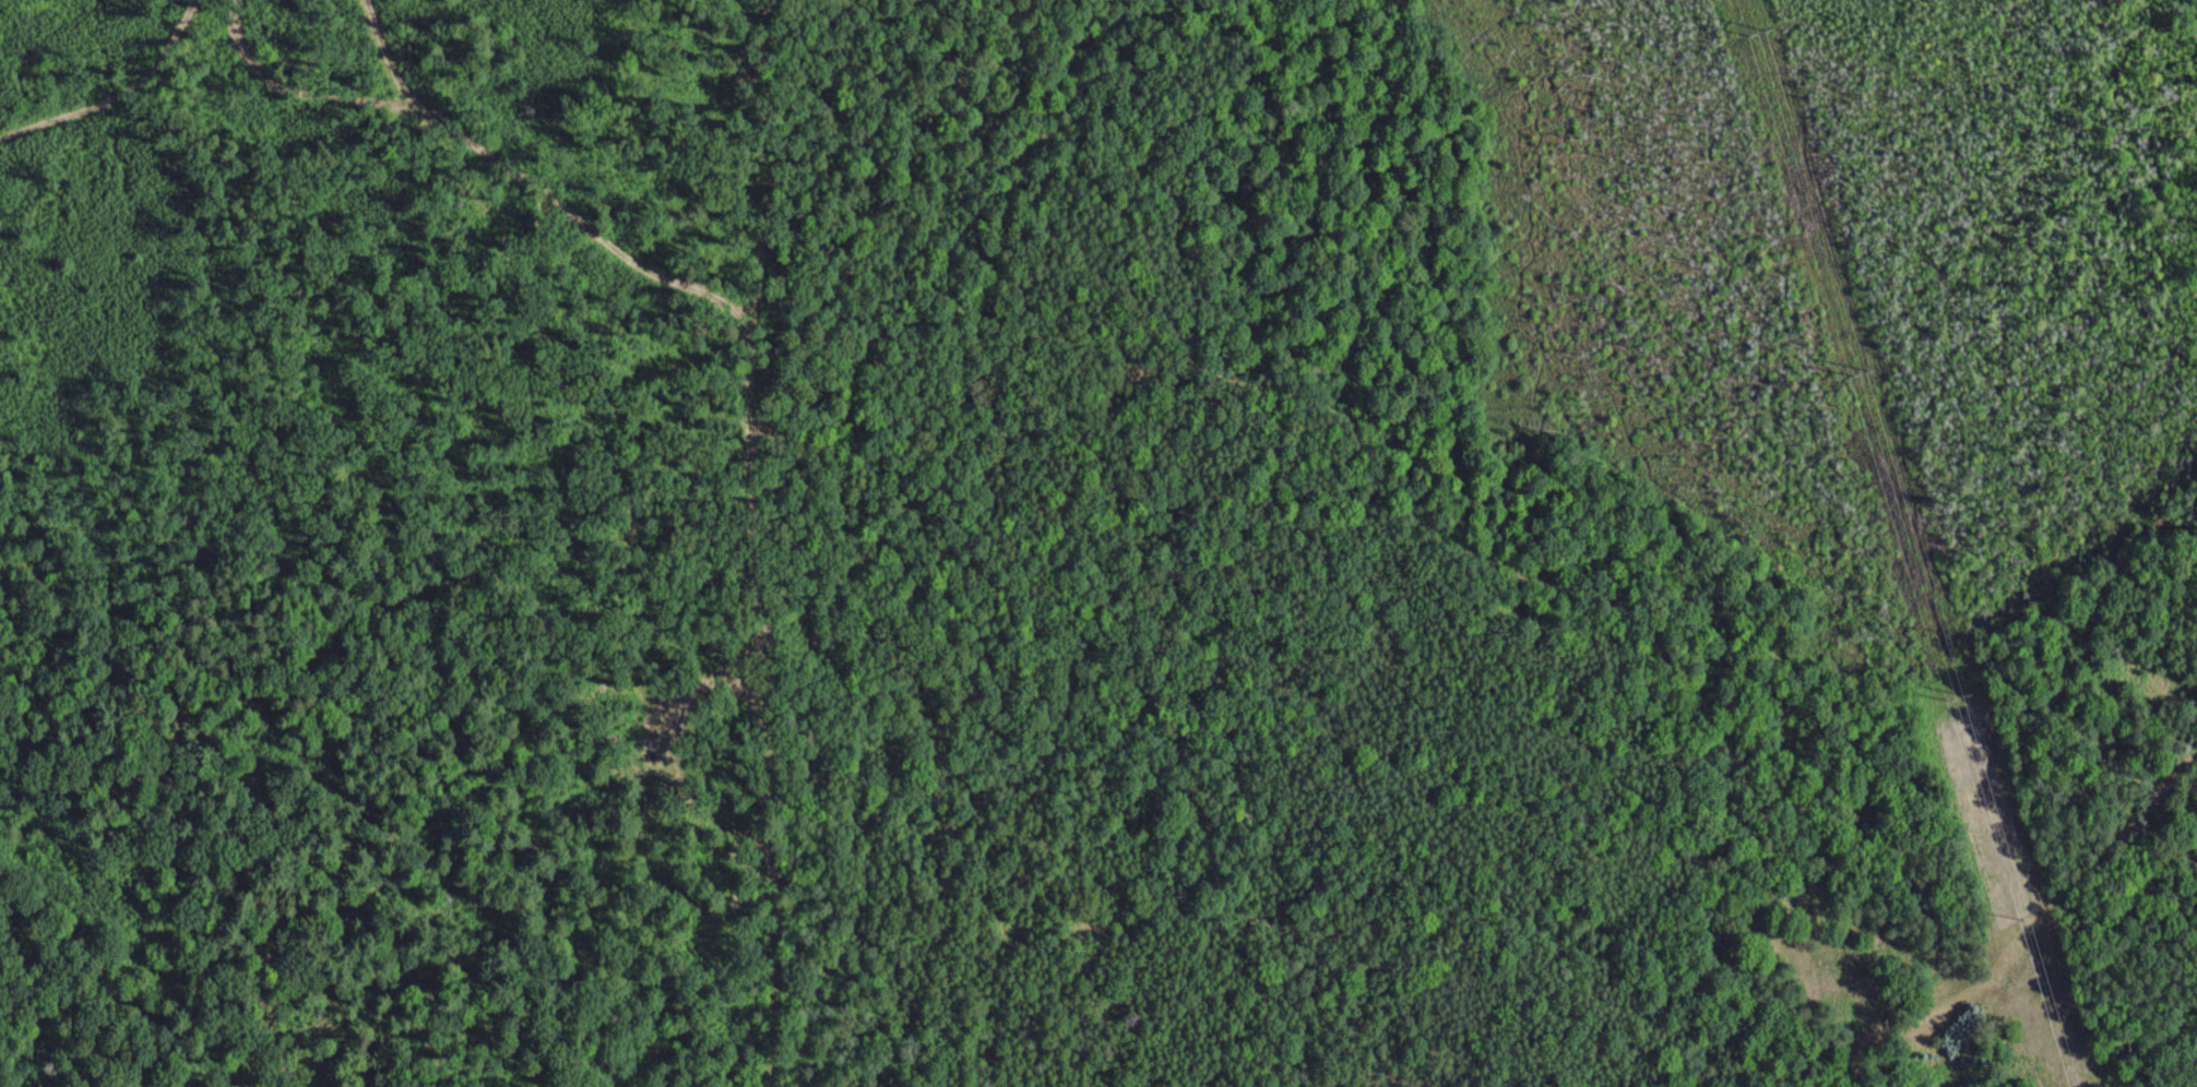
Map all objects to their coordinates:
road: (116, 94)
road: (833, 543)

